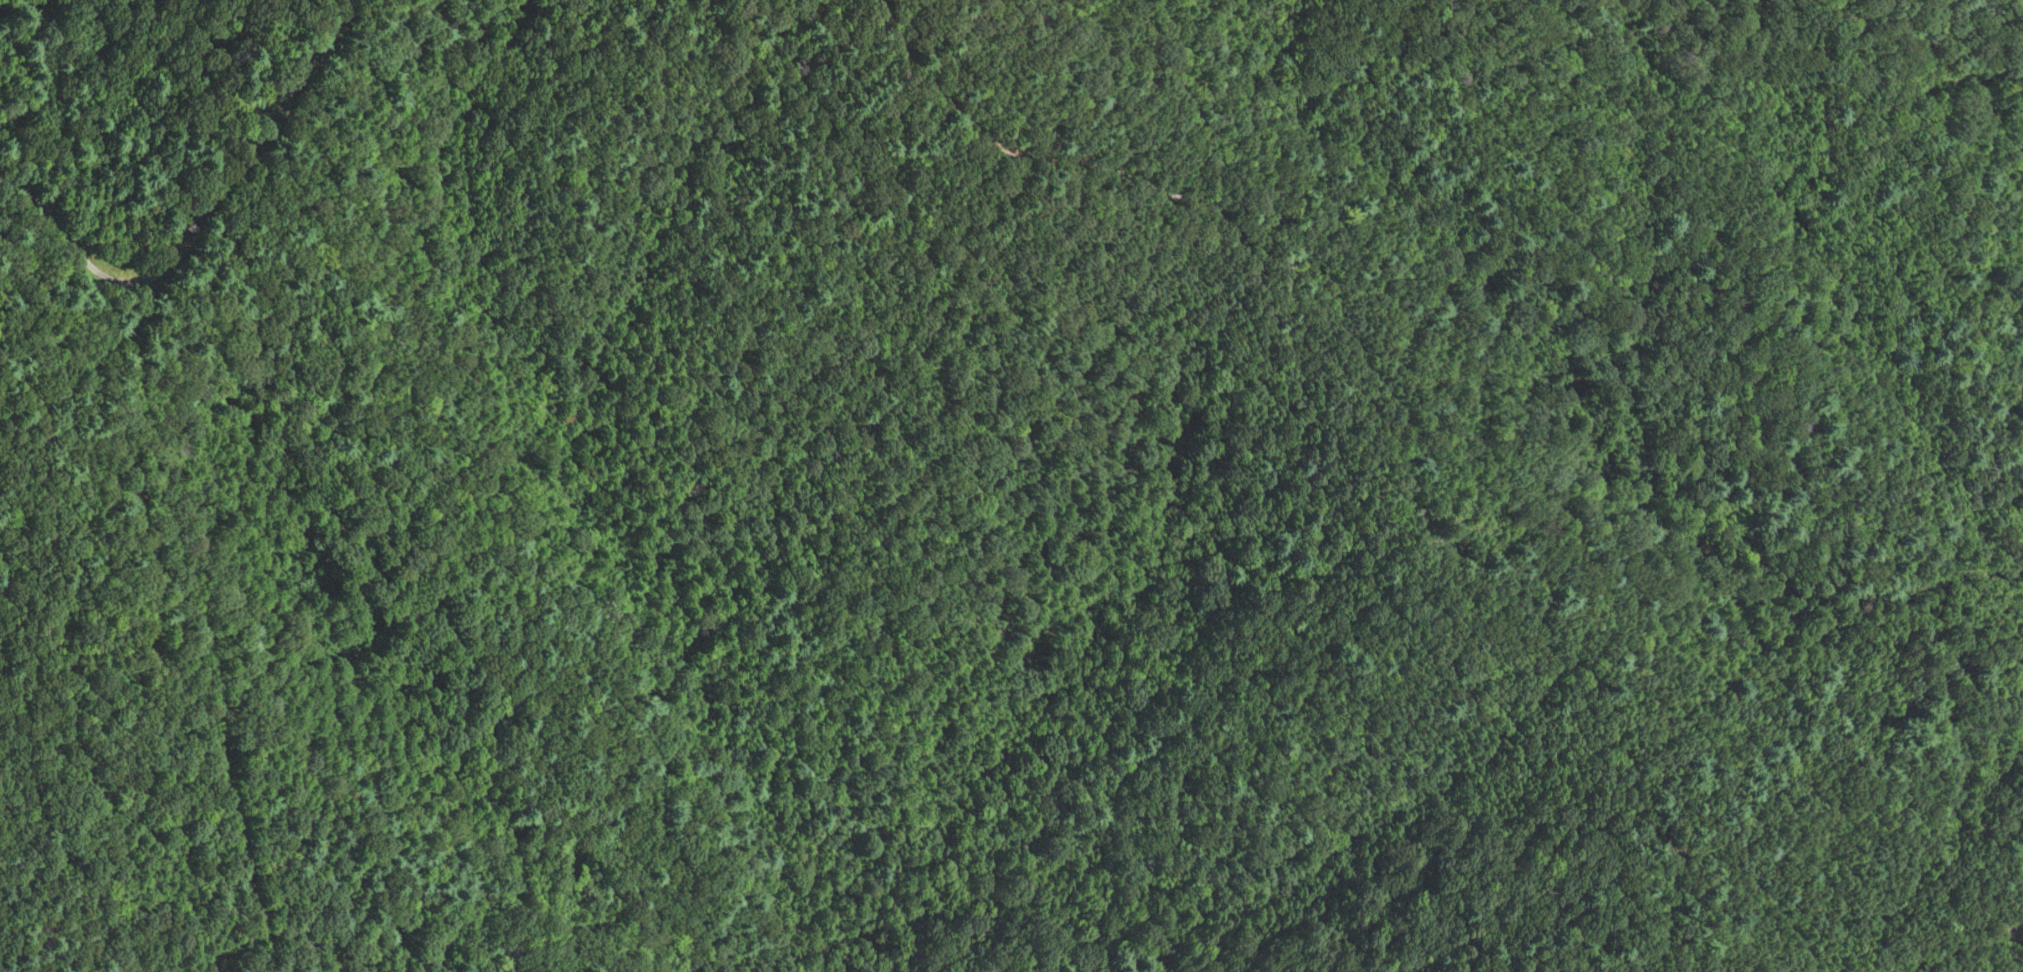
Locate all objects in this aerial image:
park: (1915, 865)

